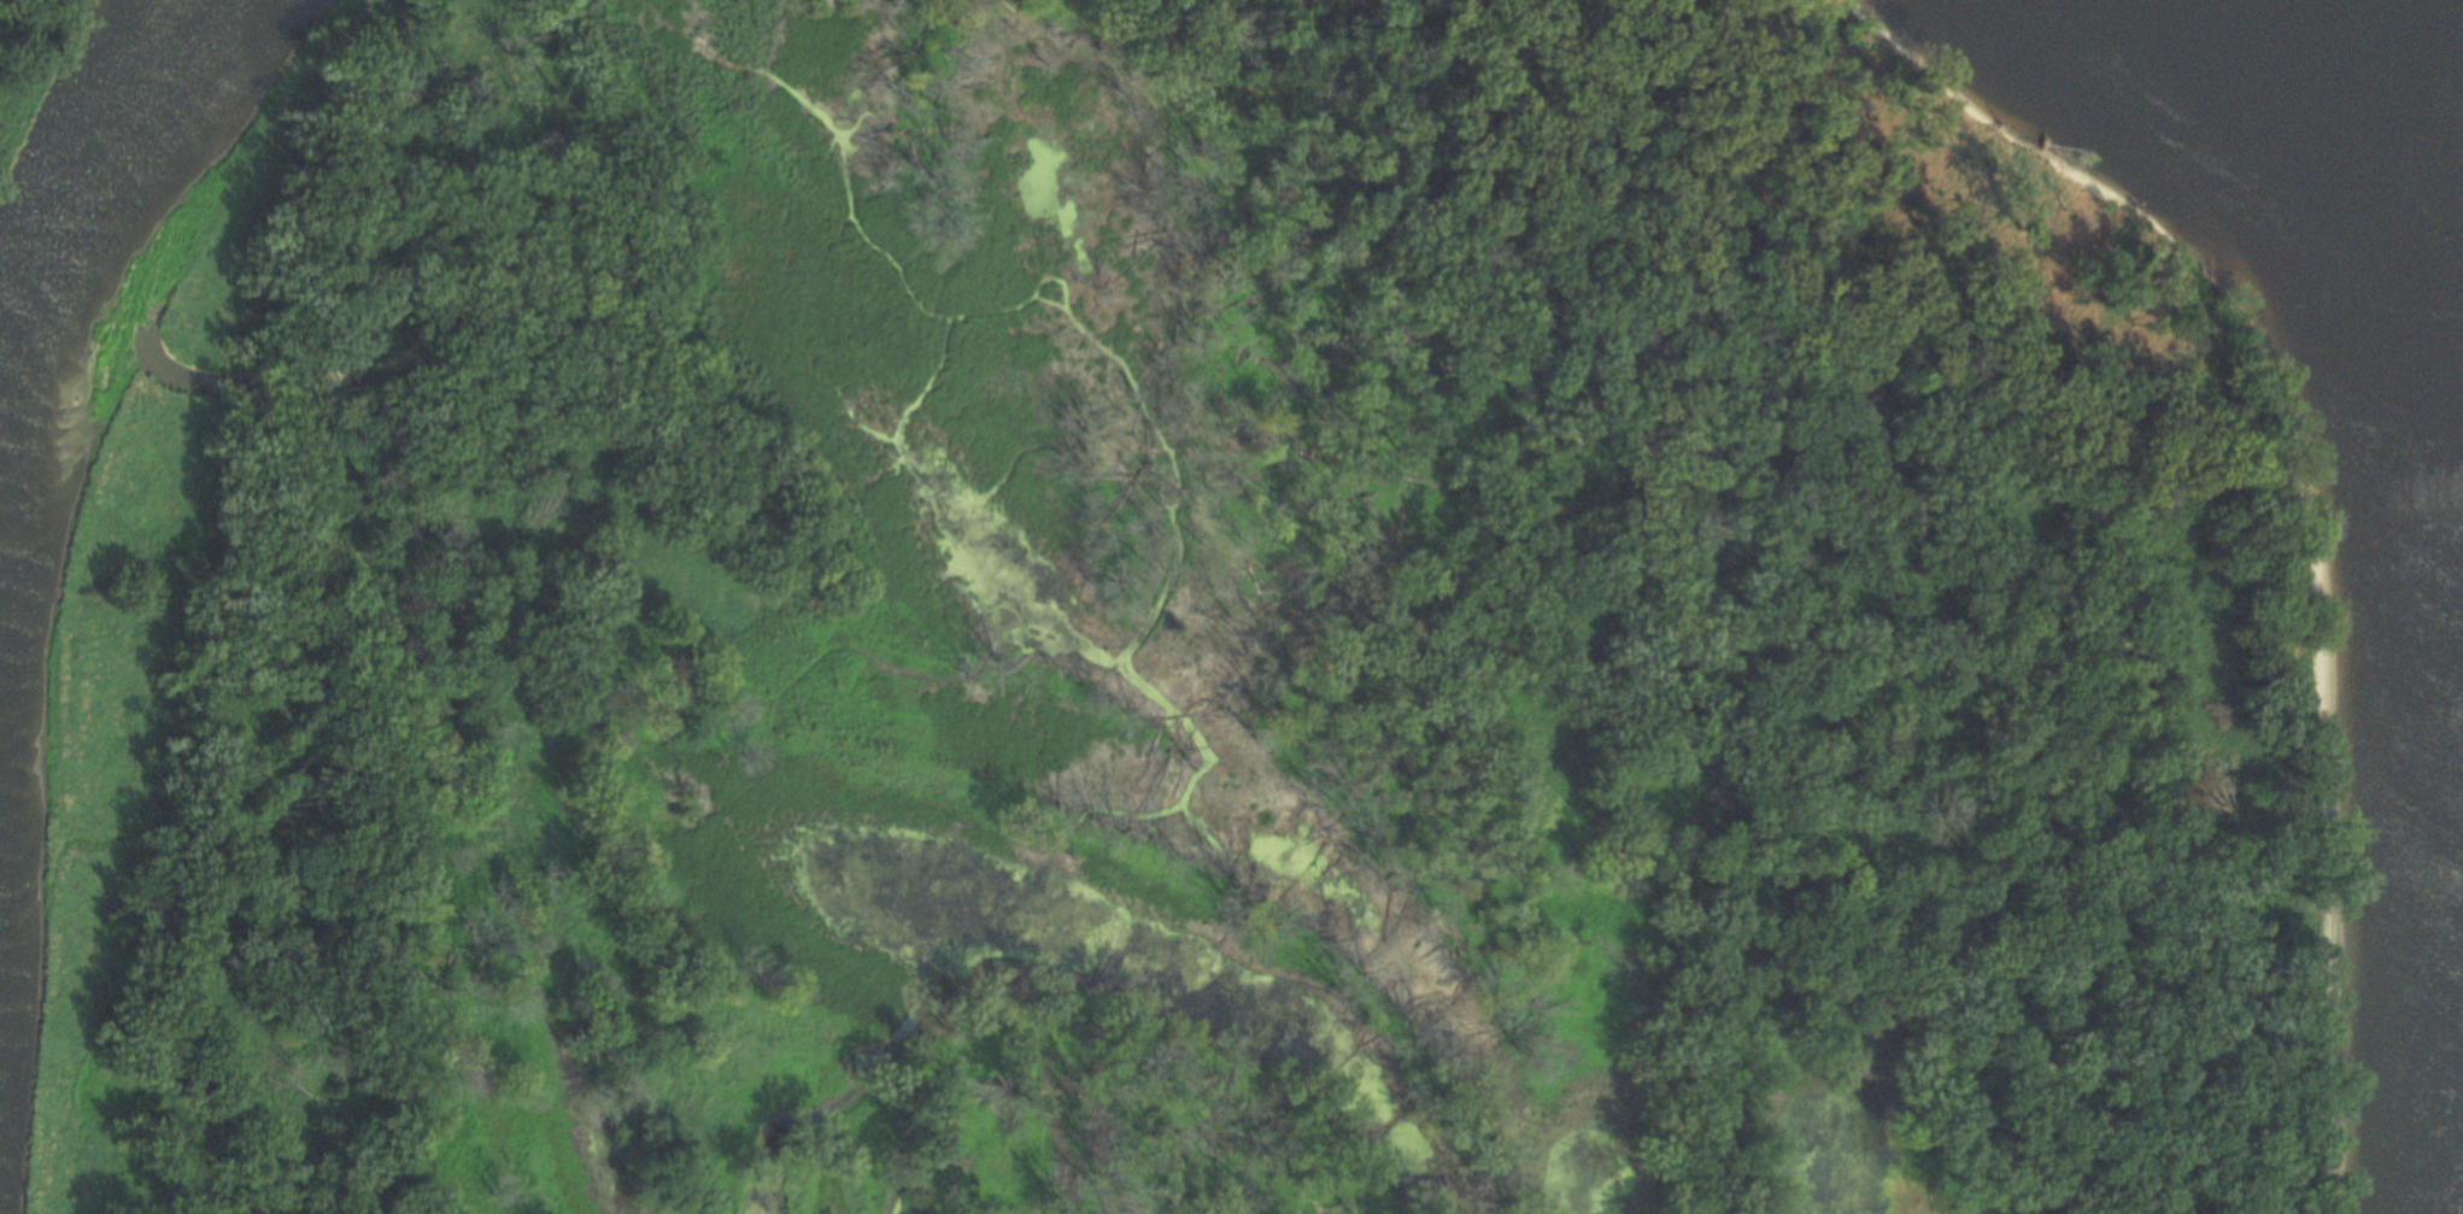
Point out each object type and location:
river: (90, 169)

